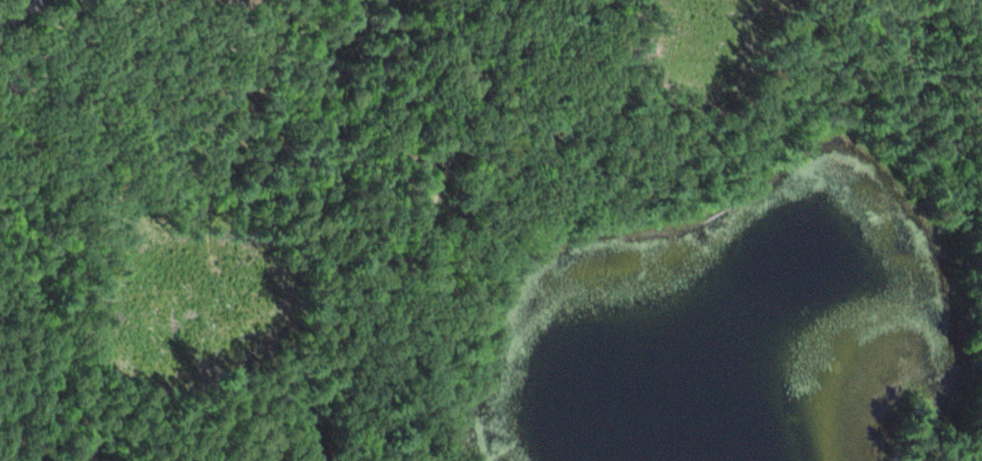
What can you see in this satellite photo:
road: (17, 14)
road: (443, 159)
road: (86, 211)
road: (282, 406)
road: (381, 407)
road: (48, 451)

